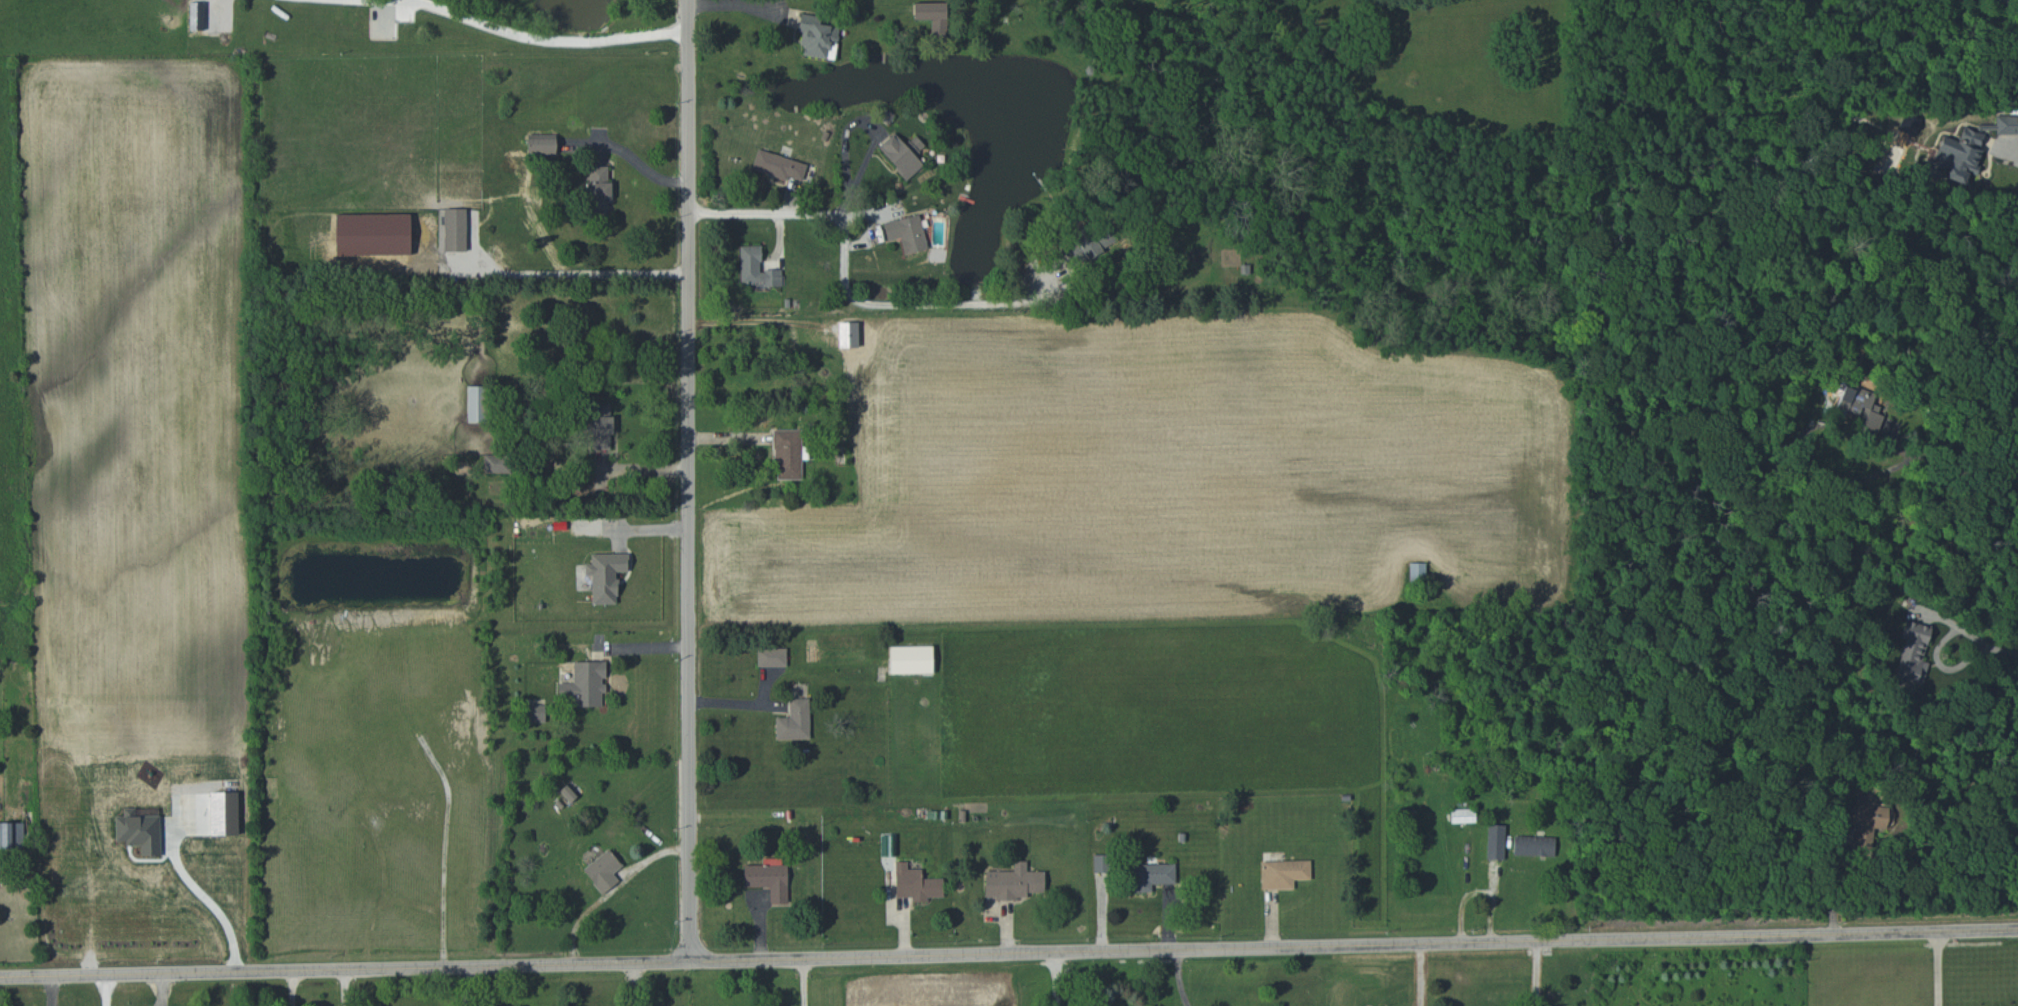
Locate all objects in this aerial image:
road: (737, 6)
building: (932, 15)
building: (817, 37)
road: (548, 39)
building: (2006, 125)
road: (2013, 141)
building: (541, 144)
building: (902, 153)
building: (1959, 154)
building: (779, 166)
road: (640, 167)
building: (598, 189)
building: (455, 229)
building: (907, 233)
building: (756, 267)
road: (879, 332)
building: (476, 403)
building: (1861, 407)
building: (600, 426)
road: (1799, 448)
building: (787, 454)
building: (496, 463)
road: (1965, 470)
road: (688, 480)
building: (1417, 571)
building: (605, 575)
road: (1977, 639)
building: (1912, 653)
building: (771, 656)
building: (911, 659)
building: (584, 685)
building: (533, 713)
building: (794, 721)
building: (1462, 815)
building: (1868, 821)
building: (11, 836)
building: (1495, 841)
building: (1533, 845)
building: (603, 870)
building: (1283, 873)
building: (1150, 876)
building: (769, 878)
road: (1834, 880)
building: (1013, 882)
building: (915, 883)
road: (1481, 891)
road: (204, 898)
road: (1008, 953)
road: (1939, 968)
road: (1178, 978)
road: (1057, 979)
road: (632, 984)
road: (465, 986)
road: (343, 987)
road: (106, 990)

